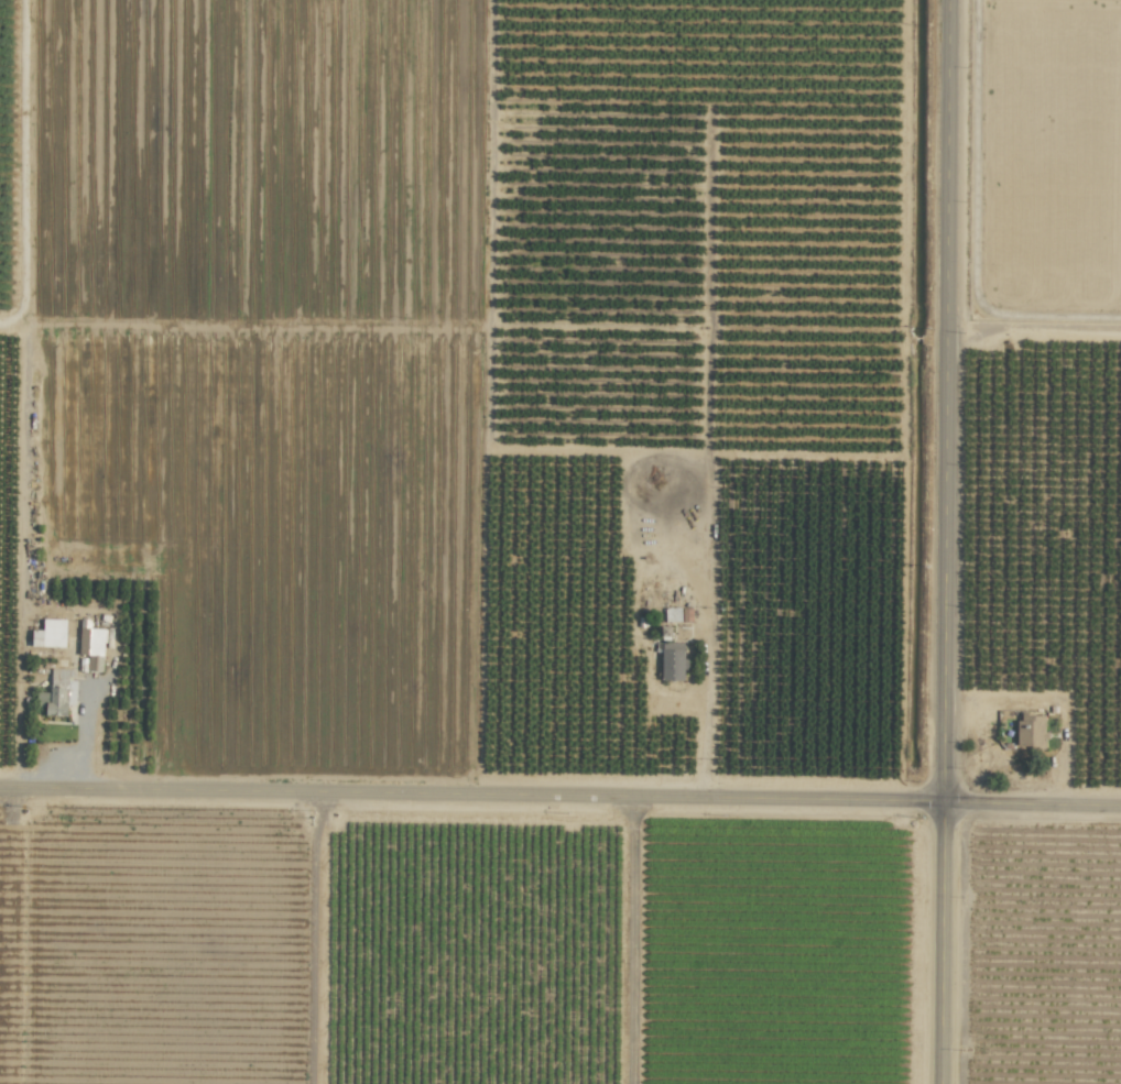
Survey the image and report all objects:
crop: (1051, 151)
road: (990, 212)
road: (944, 541)
building: (677, 614)
building: (50, 634)
road: (707, 634)
building: (91, 647)
building: (672, 661)
building: (55, 693)
building: (1030, 730)
road: (84, 741)
road: (560, 797)
road: (17, 941)

